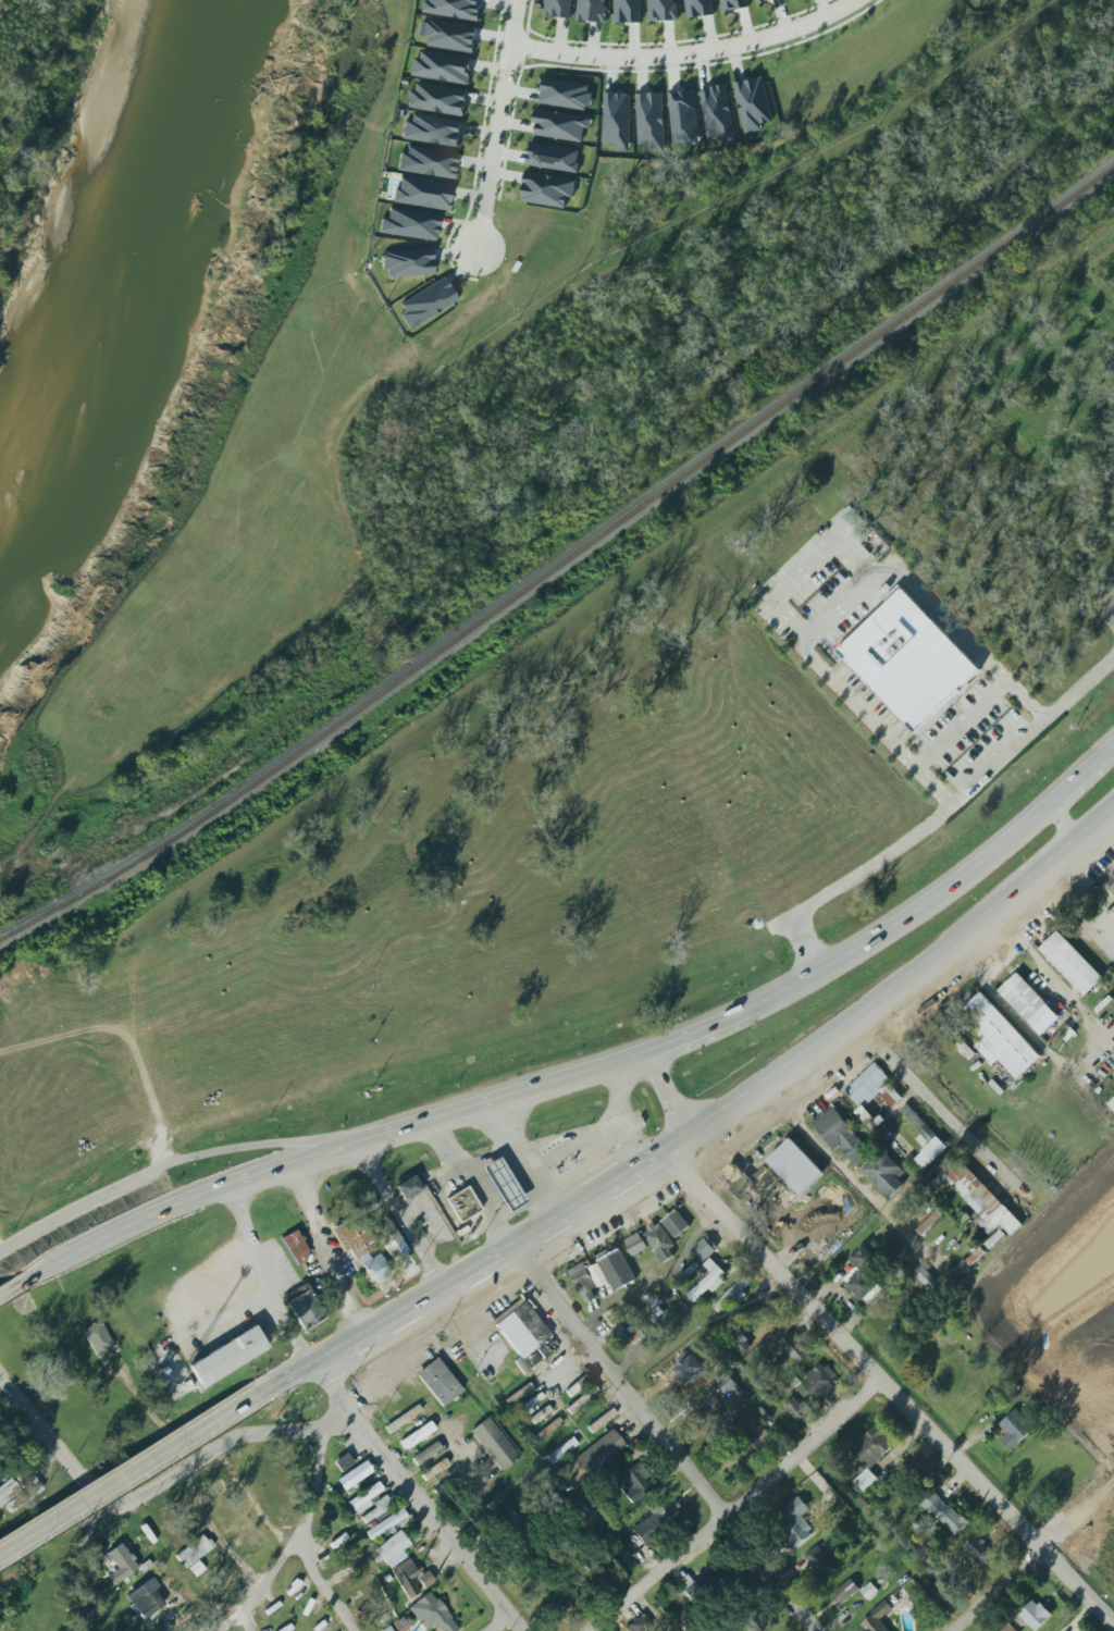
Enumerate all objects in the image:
building: (979, 0)
building: (760, 1)
building: (733, 4)
building: (558, 8)
building: (698, 8)
building: (455, 9)
building: (661, 9)
building: (590, 10)
building: (627, 10)
building: (451, 36)
road: (688, 54)
building: (443, 66)
building: (564, 91)
building: (437, 98)
building: (751, 101)
building: (716, 111)
building: (681, 114)
building: (649, 119)
building: (617, 120)
building: (559, 122)
road: (496, 126)
building: (432, 129)
building: (554, 158)
building: (426, 161)
building: (546, 188)
building: (422, 191)
building: (409, 222)
building: (408, 261)
river: (126, 275)
building: (426, 302)
building: (852, 516)
railway: (562, 561)
road: (807, 569)
road: (847, 603)
road: (1106, 605)
building: (909, 660)
road: (962, 724)
road: (1113, 745)
road: (1081, 777)
road: (950, 806)
road: (1064, 823)
road: (1097, 823)
road: (1044, 868)
building: (1111, 880)
road: (914, 913)
road: (1078, 914)
road: (806, 944)
building: (1069, 963)
road: (1001, 1003)
building: (1029, 1003)
road: (840, 1027)
road: (702, 1028)
building: (999, 1036)
road: (622, 1059)
building: (872, 1088)
road: (658, 1095)
building: (1112, 1103)
road: (943, 1110)
road: (621, 1112)
building: (863, 1113)
road: (126, 1123)
building: (881, 1129)
building: (839, 1134)
road: (567, 1135)
building: (924, 1140)
road: (732, 1144)
road: (271, 1145)
road: (308, 1157)
road: (484, 1158)
road: (518, 1160)
road: (583, 1164)
building: (794, 1165)
building: (884, 1173)
road: (473, 1179)
road: (850, 1179)
building: (503, 1184)
gas station: (503, 1184)
building: (408, 1188)
building: (977, 1197)
building: (462, 1203)
gas station: (462, 1203)
road: (77, 1206)
road: (395, 1215)
road: (888, 1220)
building: (676, 1223)
building: (994, 1239)
building: (660, 1241)
building: (393, 1244)
building: (636, 1244)
road: (326, 1247)
building: (361, 1247)
building: (295, 1248)
building: (704, 1248)
road: (490, 1255)
building: (617, 1270)
building: (597, 1272)
road: (529, 1276)
building: (862, 1276)
road: (656, 1277)
building: (708, 1281)
building: (584, 1282)
road: (273, 1284)
road: (512, 1287)
road: (11, 1288)
building: (733, 1295)
building: (306, 1308)
building: (614, 1322)
building: (635, 1324)
building: (524, 1335)
building: (97, 1337)
building: (741, 1344)
building: (788, 1346)
road: (383, 1350)
building: (704, 1356)
building: (226, 1357)
road: (567, 1361)
road: (627, 1362)
building: (673, 1362)
road: (285, 1379)
building: (440, 1381)
building: (820, 1382)
road: (887, 1384)
road: (331, 1387)
building: (518, 1394)
building: (582, 1399)
building: (796, 1408)
building: (708, 1413)
building: (541, 1414)
building: (403, 1419)
building: (601, 1420)
building: (1015, 1429)
building: (417, 1435)
road: (663, 1437)
building: (494, 1443)
building: (560, 1451)
building: (871, 1451)
building: (425, 1453)
building: (592, 1458)
building: (343, 1462)
building: (433, 1469)
road: (127, 1474)
building: (355, 1475)
building: (634, 1483)
road: (313, 1487)
road: (150, 1488)
building: (18, 1490)
building: (366, 1496)
road: (734, 1506)
building: (377, 1508)
building: (945, 1511)
road: (1079, 1515)
road: (435, 1521)
building: (655, 1521)
building: (795, 1522)
building: (386, 1524)
road: (212, 1534)
road: (285, 1541)
building: (978, 1549)
building: (194, 1550)
building: (928, 1553)
building: (397, 1559)
building: (820, 1562)
building: (120, 1564)
building: (196, 1569)
road: (267, 1579)
building: (686, 1584)
building: (597, 1587)
road: (997, 1590)
building: (845, 1591)
building: (869, 1591)
building: (564, 1596)
building: (145, 1598)
road: (649, 1610)
building: (431, 1614)
building: (1032, 1614)
building: (875, 1619)
road: (497, 1622)
building: (750, 1622)
building: (639, 1623)
building: (1010, 1628)
building: (387, 1629)

